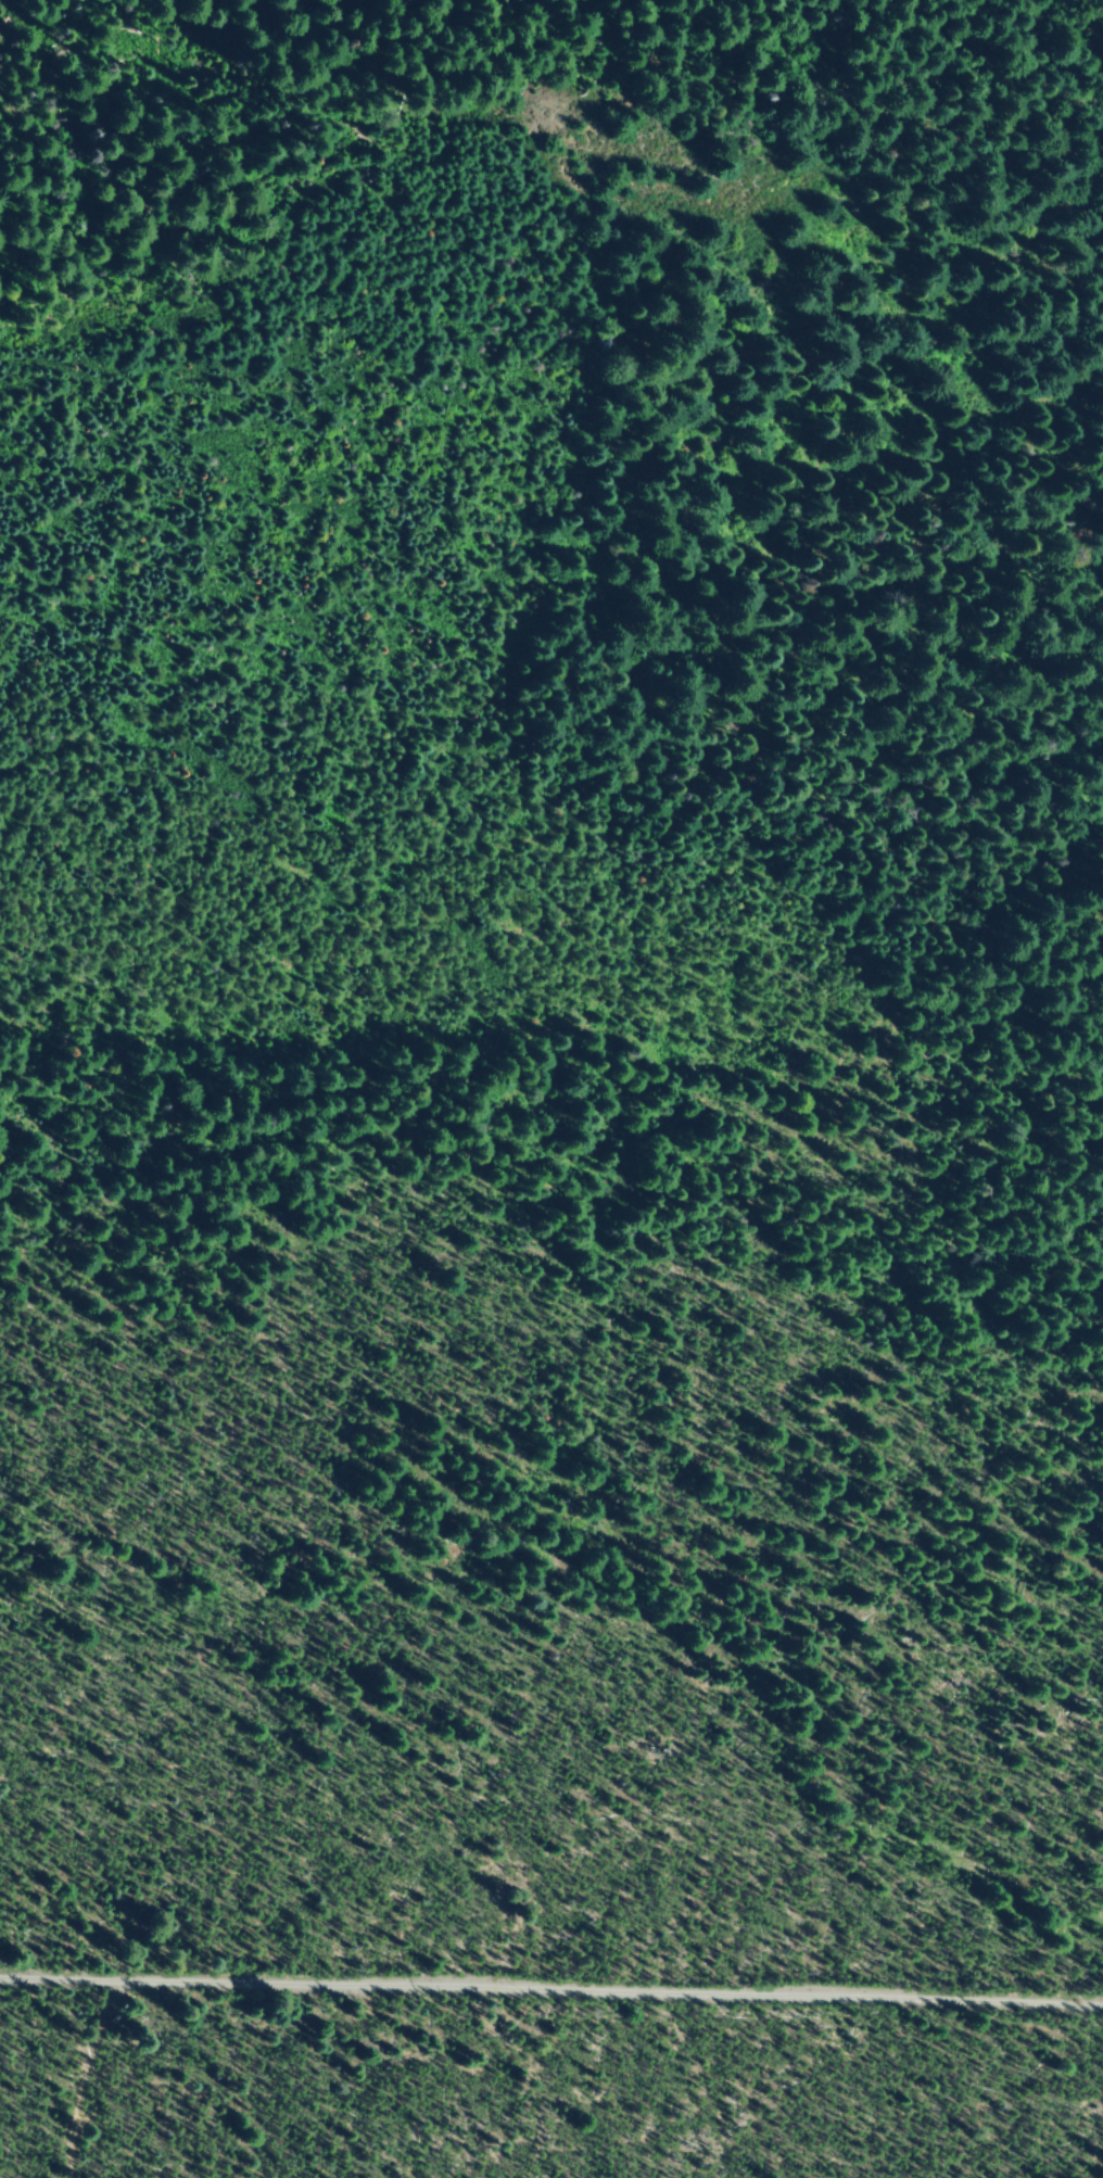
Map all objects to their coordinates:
road: (551, 1993)

